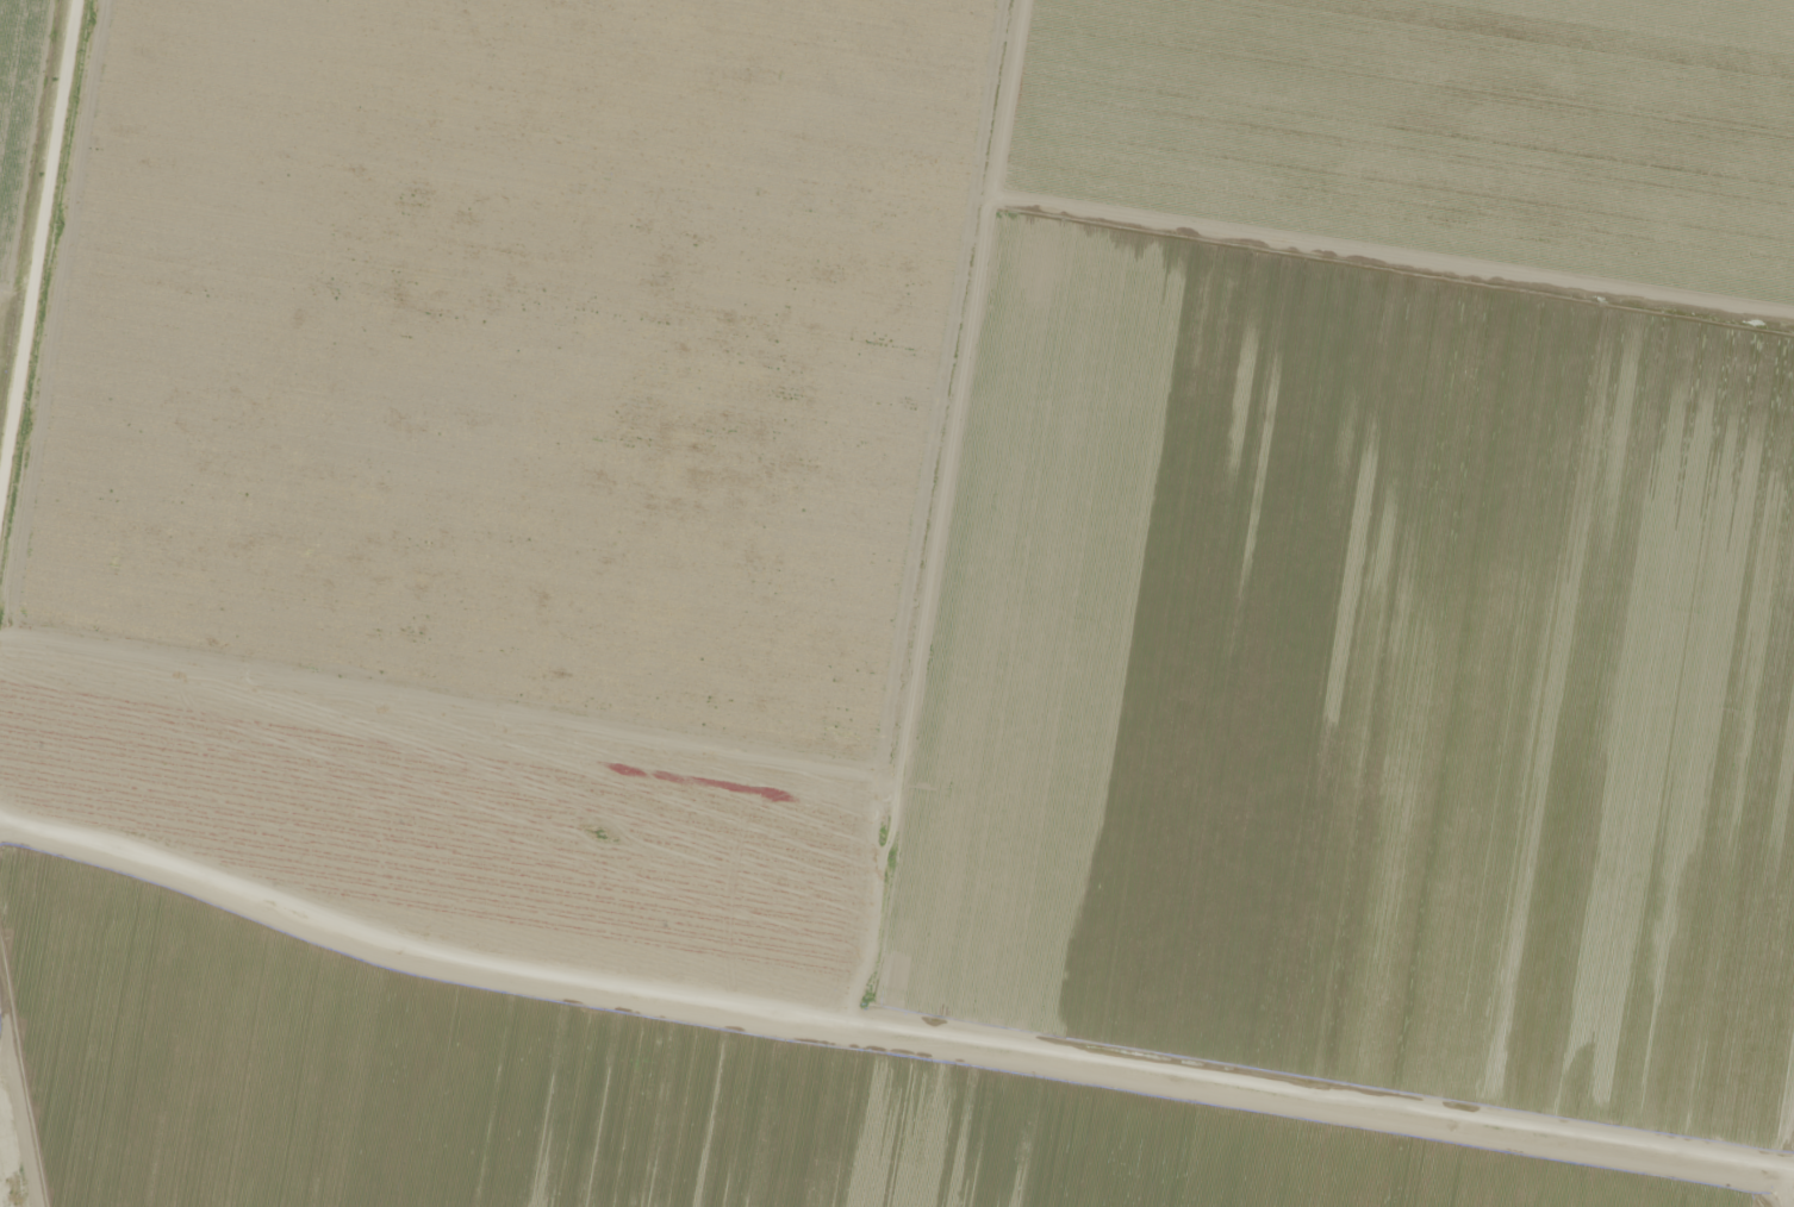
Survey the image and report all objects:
road: (41, 269)
road: (883, 1042)
road: (13, 1153)

